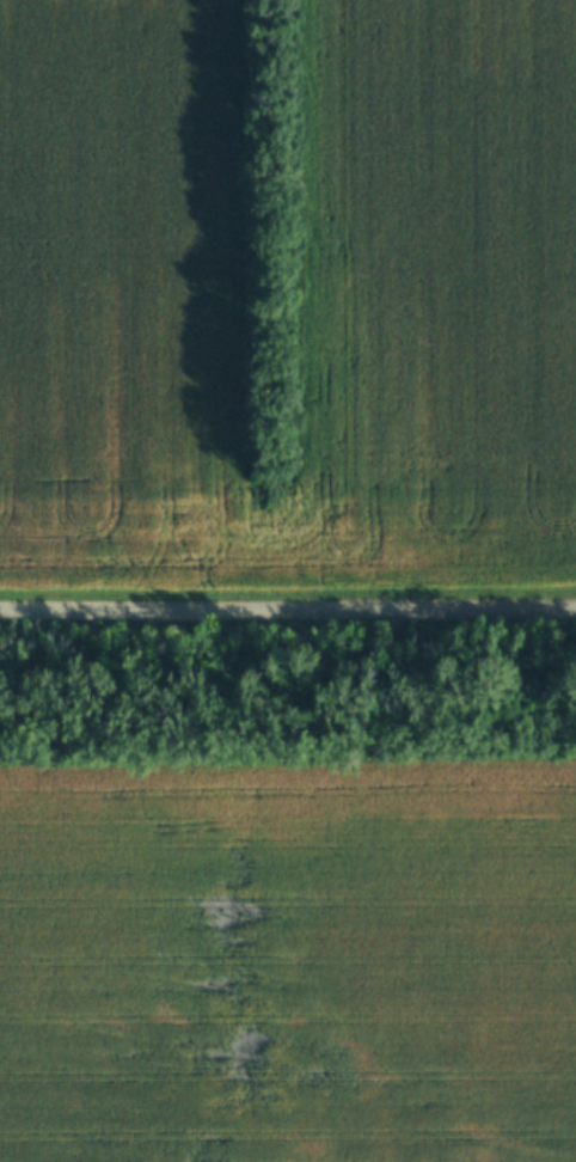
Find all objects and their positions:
road: (287, 610)

